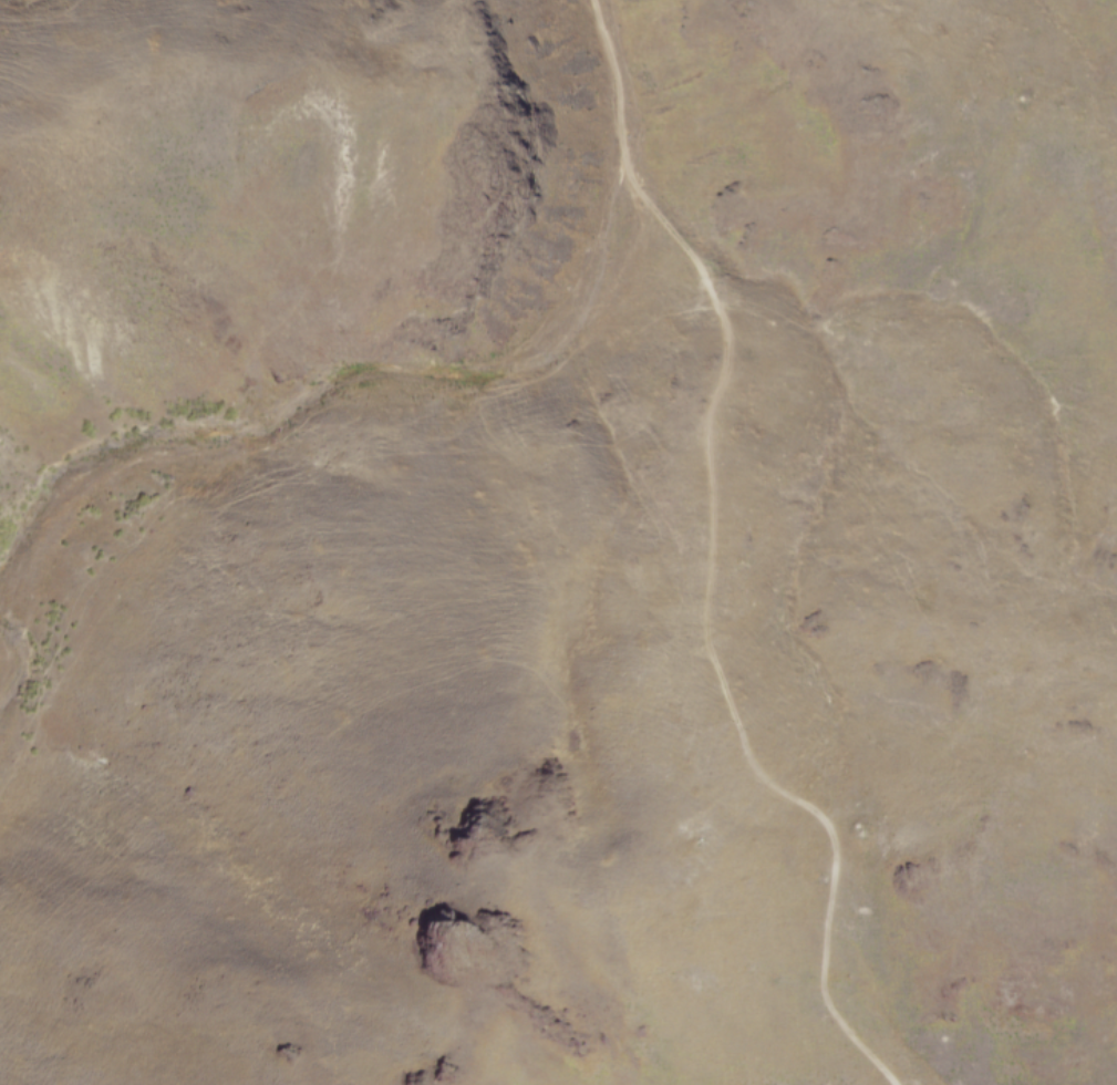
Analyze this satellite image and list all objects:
road: (710, 560)

